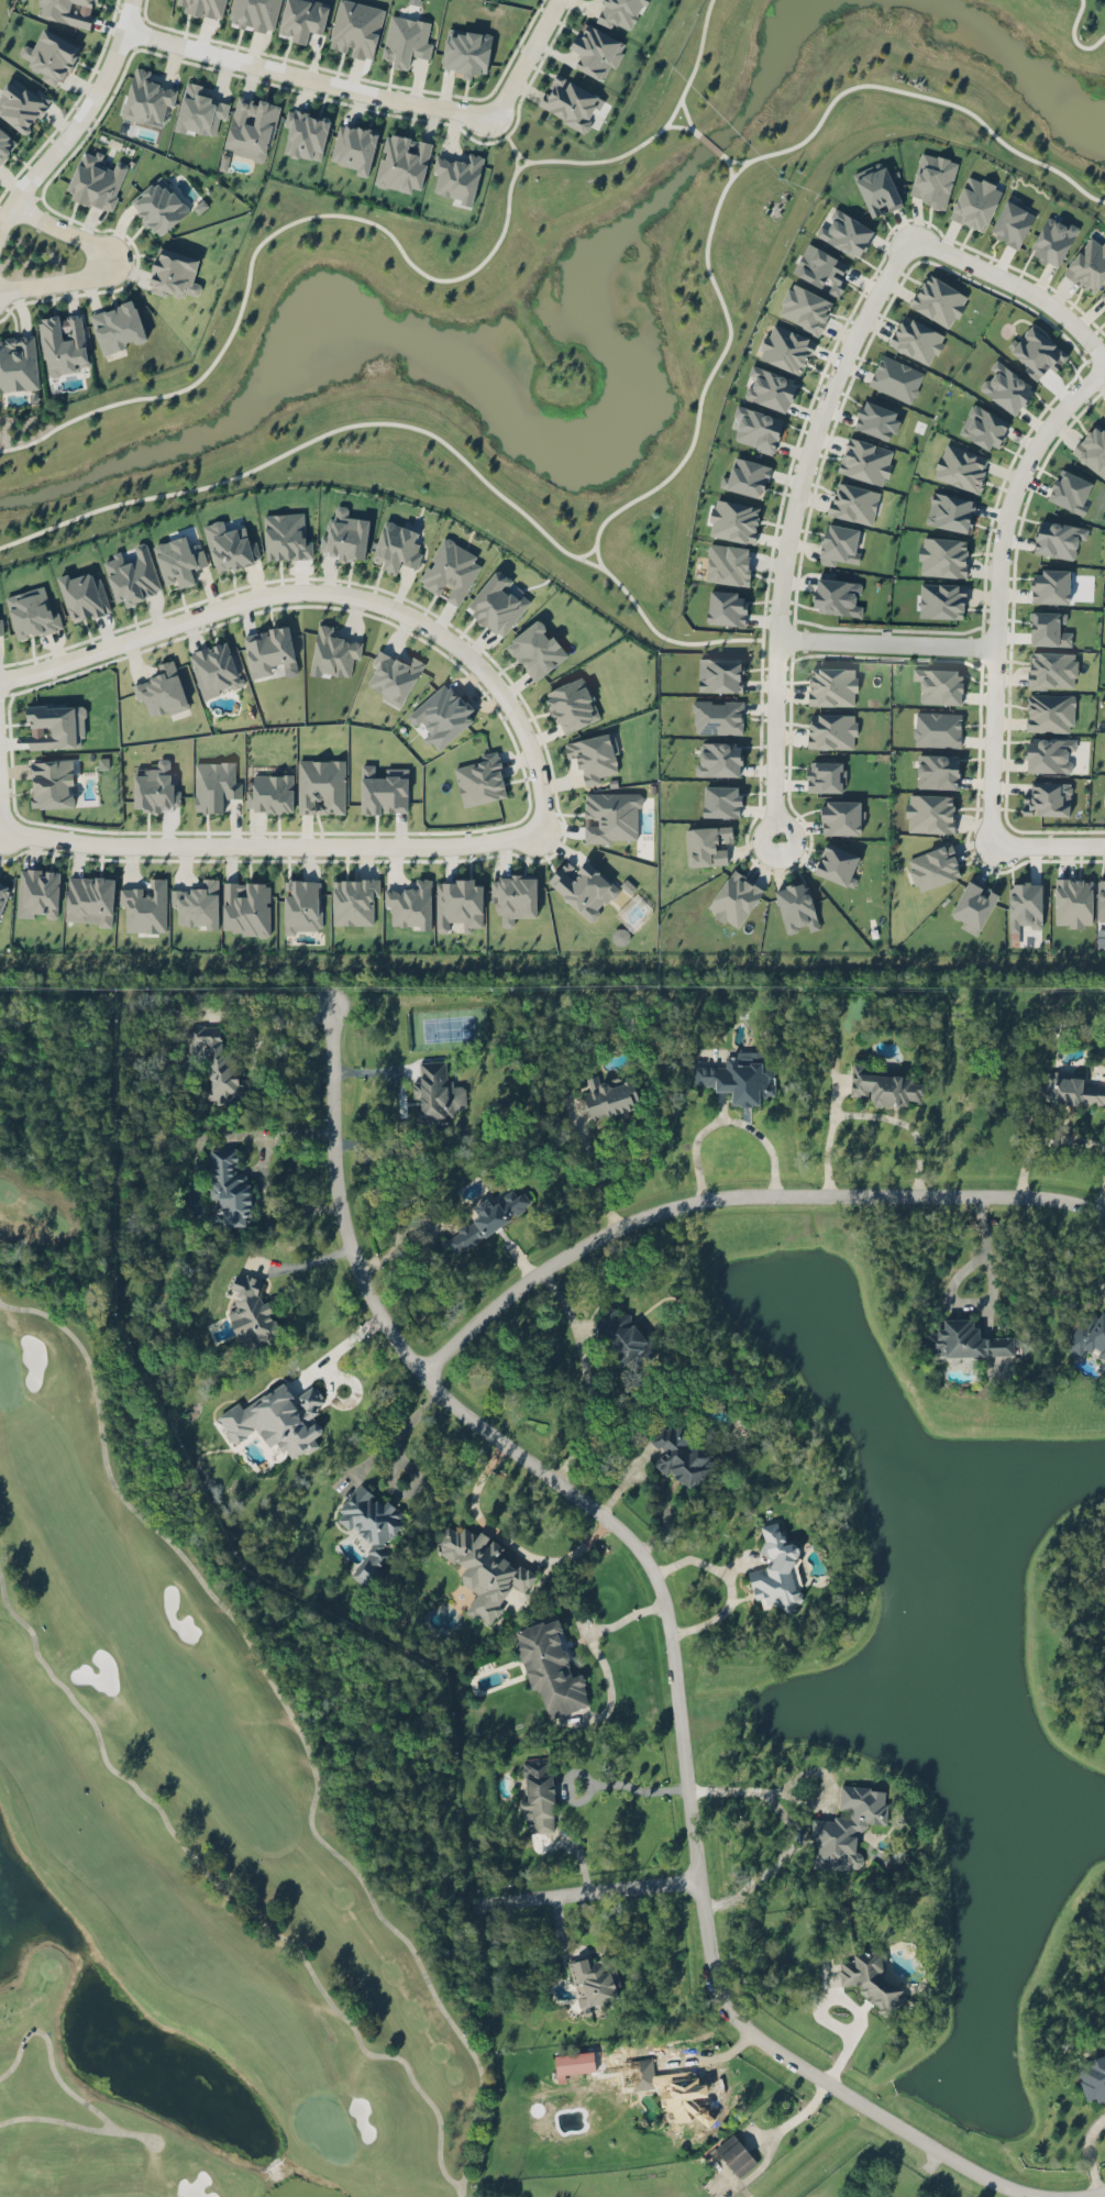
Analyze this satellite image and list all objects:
building: (203, 7)
building: (68, 11)
building: (620, 12)
building: (255, 14)
building: (302, 19)
building: (356, 29)
road: (1074, 37)
building: (406, 41)
building: (596, 51)
building: (466, 52)
building: (51, 56)
road: (526, 58)
road: (305, 75)
building: (147, 99)
building: (570, 101)
building: (21, 106)
building: (200, 111)
road: (687, 118)
road: (79, 120)
building: (252, 124)
road: (675, 126)
building: (306, 134)
road: (709, 143)
building: (354, 147)
road: (732, 161)
building: (404, 163)
road: (729, 166)
building: (457, 177)
building: (933, 179)
building: (97, 181)
building: (877, 188)
building: (975, 202)
building: (159, 206)
building: (1012, 223)
building: (846, 232)
road: (391, 235)
building: (1053, 241)
road: (104, 262)
building: (1089, 265)
building: (821, 269)
building: (174, 274)
road: (1017, 285)
building: (1102, 298)
building: (939, 300)
building: (805, 308)
building: (118, 327)
building: (917, 340)
building: (63, 343)
building: (786, 349)
building: (1038, 352)
building: (18, 364)
building: (896, 378)
building: (1007, 387)
building: (771, 388)
building: (877, 420)
building: (984, 427)
building: (756, 428)
road: (815, 428)
building: (1093, 450)
building: (865, 461)
building: (961, 467)
building: (747, 477)
road: (665, 478)
building: (1070, 490)
building: (853, 503)
building: (950, 511)
building: (734, 520)
building: (344, 536)
building: (286, 537)
building: (1059, 539)
building: (840, 544)
building: (397, 547)
building: (228, 548)
building: (943, 556)
building: (179, 560)
road: (590, 560)
building: (728, 564)
building: (451, 571)
building: (133, 575)
building: (1051, 586)
road: (996, 589)
road: (332, 592)
building: (81, 596)
building: (837, 596)
building: (942, 600)
building: (497, 604)
building: (727, 608)
building: (32, 612)
building: (1, 627)
building: (1048, 629)
road: (664, 634)
road: (885, 643)
building: (537, 650)
building: (270, 651)
building: (333, 652)
building: (214, 669)
building: (1052, 670)
building: (719, 674)
building: (394, 677)
building: (939, 685)
building: (832, 686)
building: (162, 691)
building: (572, 705)
building: (1050, 713)
building: (442, 715)
building: (718, 717)
building: (56, 726)
building: (938, 729)
building: (831, 730)
road: (773, 740)
building: (1049, 754)
building: (593, 757)
building: (719, 759)
building: (938, 771)
building: (825, 776)
building: (480, 780)
building: (52, 783)
building: (214, 785)
building: (321, 786)
building: (155, 787)
building: (384, 791)
building: (270, 793)
building: (1048, 798)
building: (721, 801)
building: (930, 813)
building: (612, 816)
building: (840, 817)
road: (0, 820)
building: (708, 844)
road: (1047, 844)
road: (273, 846)
building: (837, 863)
building: (933, 866)
building: (583, 887)
building: (3, 893)
building: (38, 893)
building: (515, 897)
building: (90, 898)
building: (736, 898)
building: (1101, 899)
building: (354, 901)
building: (1073, 902)
building: (198, 904)
building: (460, 904)
building: (302, 905)
building: (411, 905)
building: (1025, 905)
building: (146, 906)
building: (796, 906)
building: (974, 906)
building: (246, 907)
road: (268, 1014)
building: (217, 1059)
building: (739, 1079)
building: (884, 1086)
building: (1069, 1090)
building: (435, 1093)
building: (609, 1094)
road: (398, 1104)
road: (727, 1118)
road: (906, 1124)
road: (828, 1138)
road: (590, 1169)
road: (258, 1174)
building: (229, 1189)
road: (737, 1197)
building: (487, 1218)
road: (300, 1263)
road: (1095, 1268)
road: (951, 1285)
building: (252, 1313)
building: (623, 1337)
building: (1089, 1338)
building: (966, 1339)
road: (341, 1346)
road: (587, 1376)
building: (277, 1418)
road: (391, 1434)
building: (681, 1455)
building: (369, 1527)
road: (504, 1542)
road: (700, 1564)
building: (483, 1569)
building: (776, 1571)
road: (715, 1615)
road: (667, 1629)
road: (593, 1646)
building: (551, 1669)
park: (195, 1767)
road: (632, 1786)
building: (539, 1793)
building: (846, 1825)
road: (797, 1831)
road: (589, 1892)
building: (596, 1978)
building: (871, 1979)
building: (575, 2064)
building: (1092, 2076)
building: (666, 2088)
road: (795, 2117)
building: (736, 2155)
road: (1095, 2195)
road: (1093, 2196)

